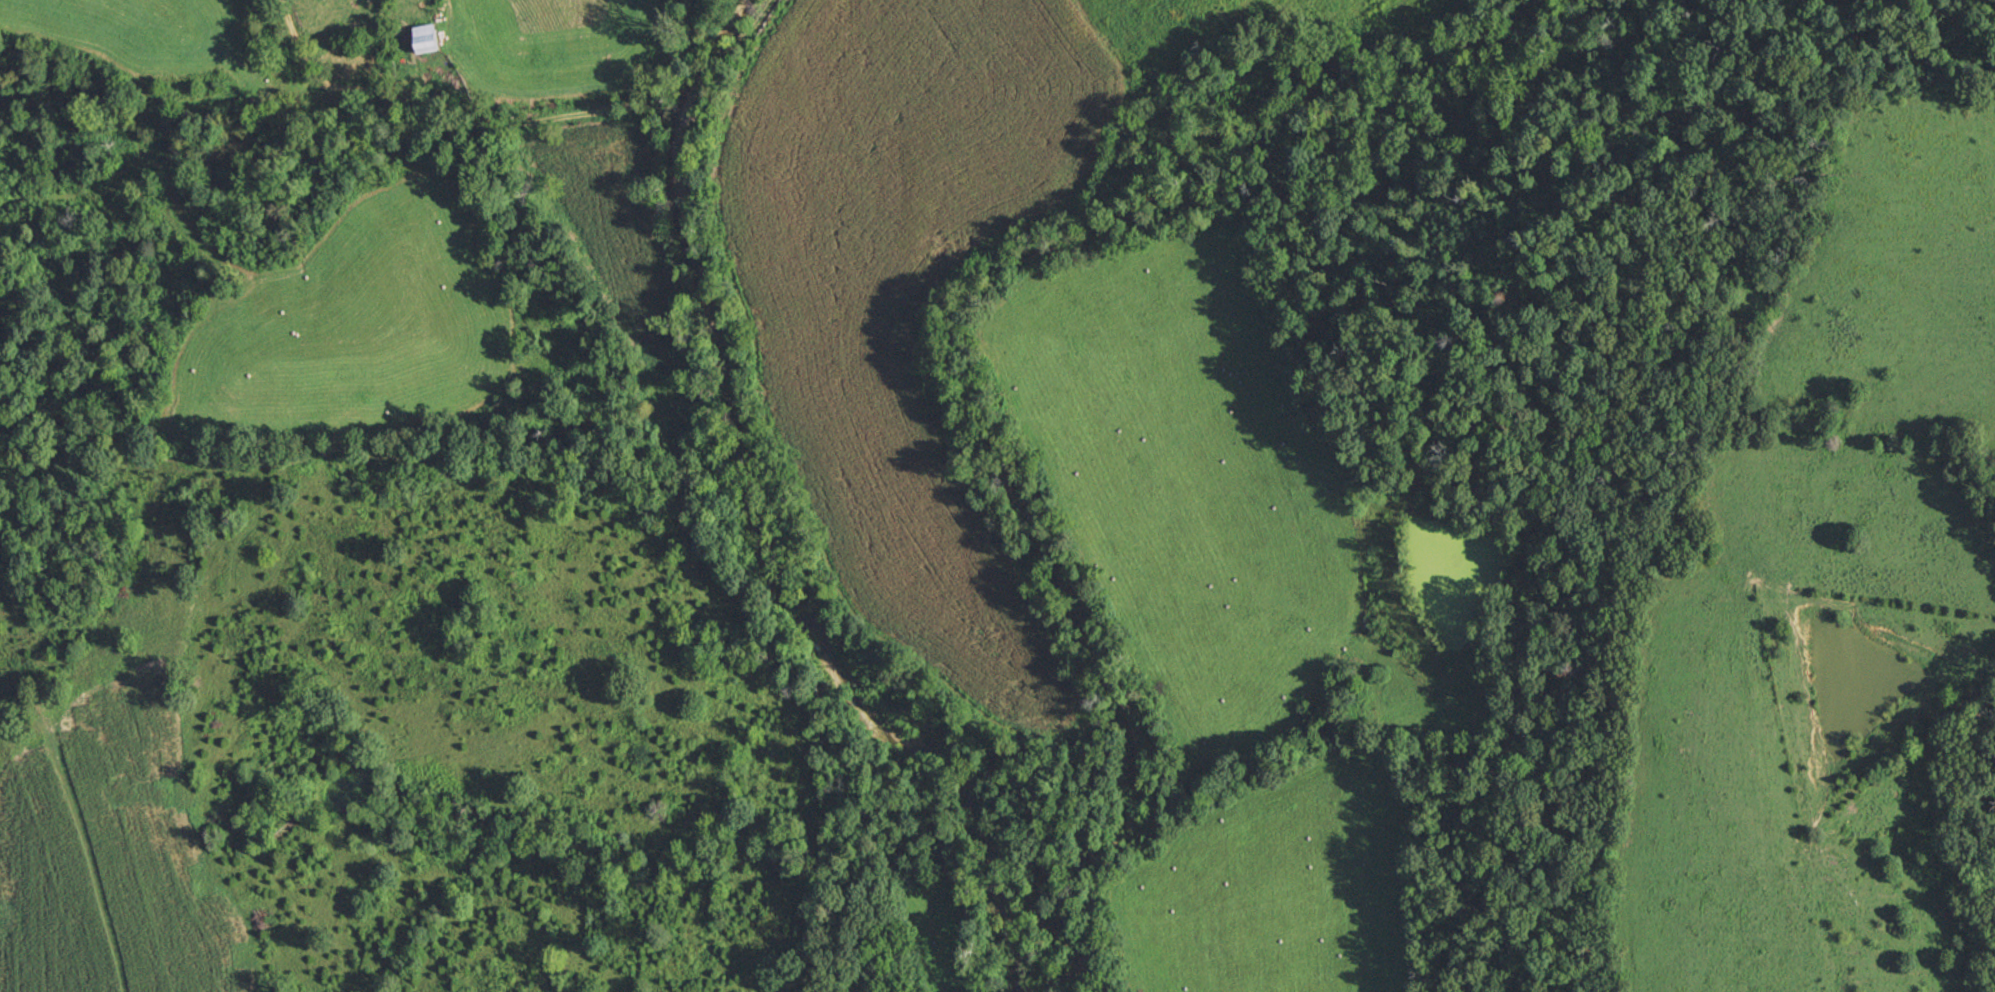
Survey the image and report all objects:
building: (427, 39)
road: (503, 102)

